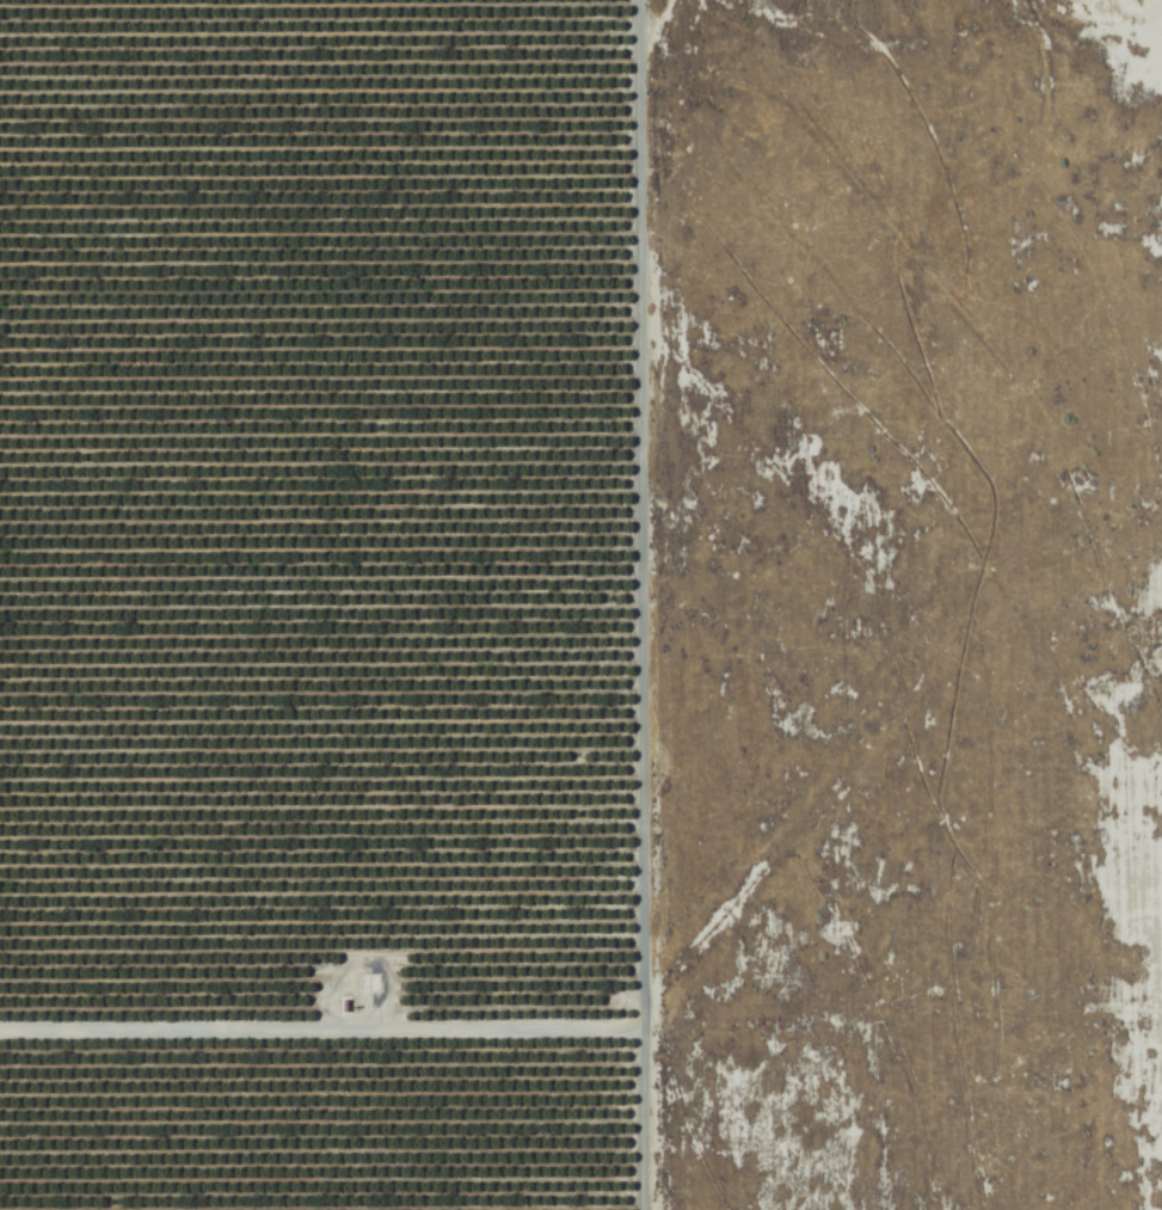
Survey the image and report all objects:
crop: (324, 604)
road: (319, 1033)

